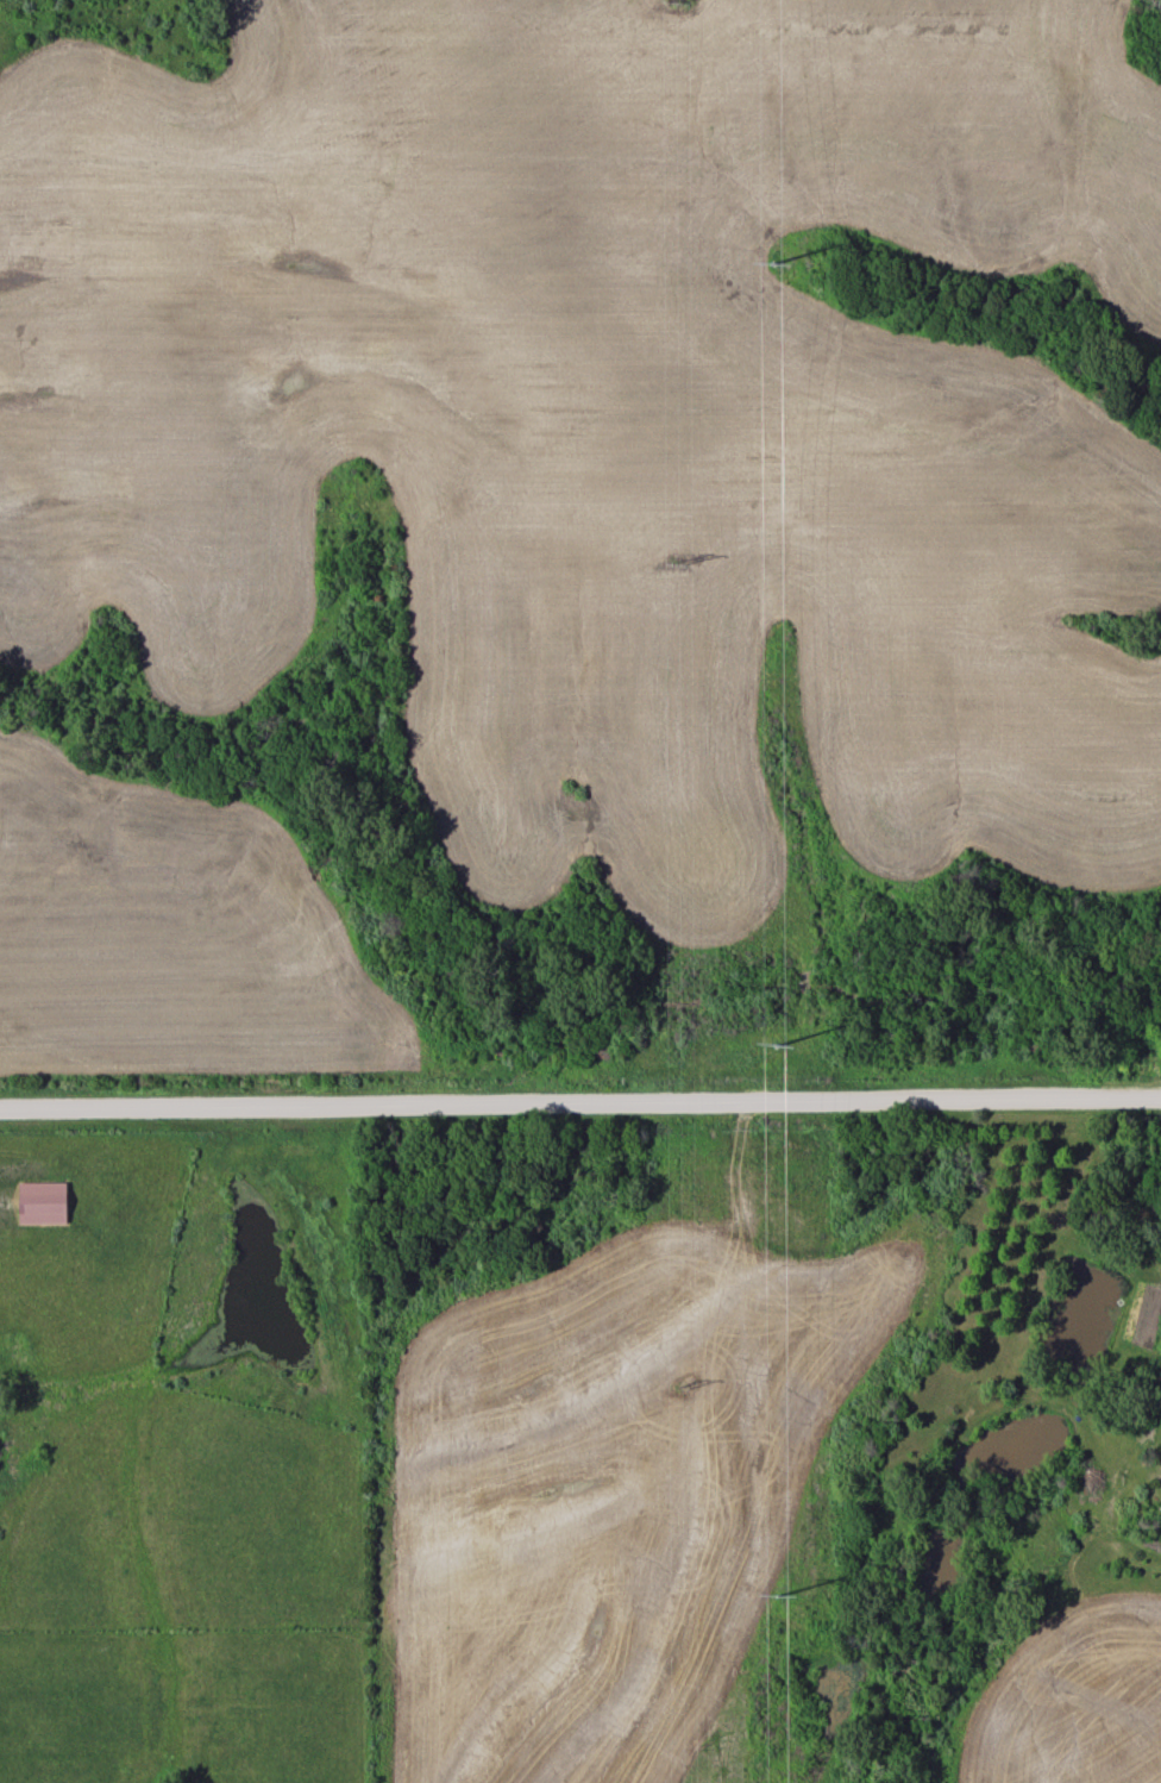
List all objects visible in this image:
power tower: (670, 1)
power tower: (783, 258)
power tower: (670, 564)
power tower: (771, 1043)
road: (580, 1082)
building: (40, 1203)
power tower: (676, 1390)
power tower: (773, 1593)

